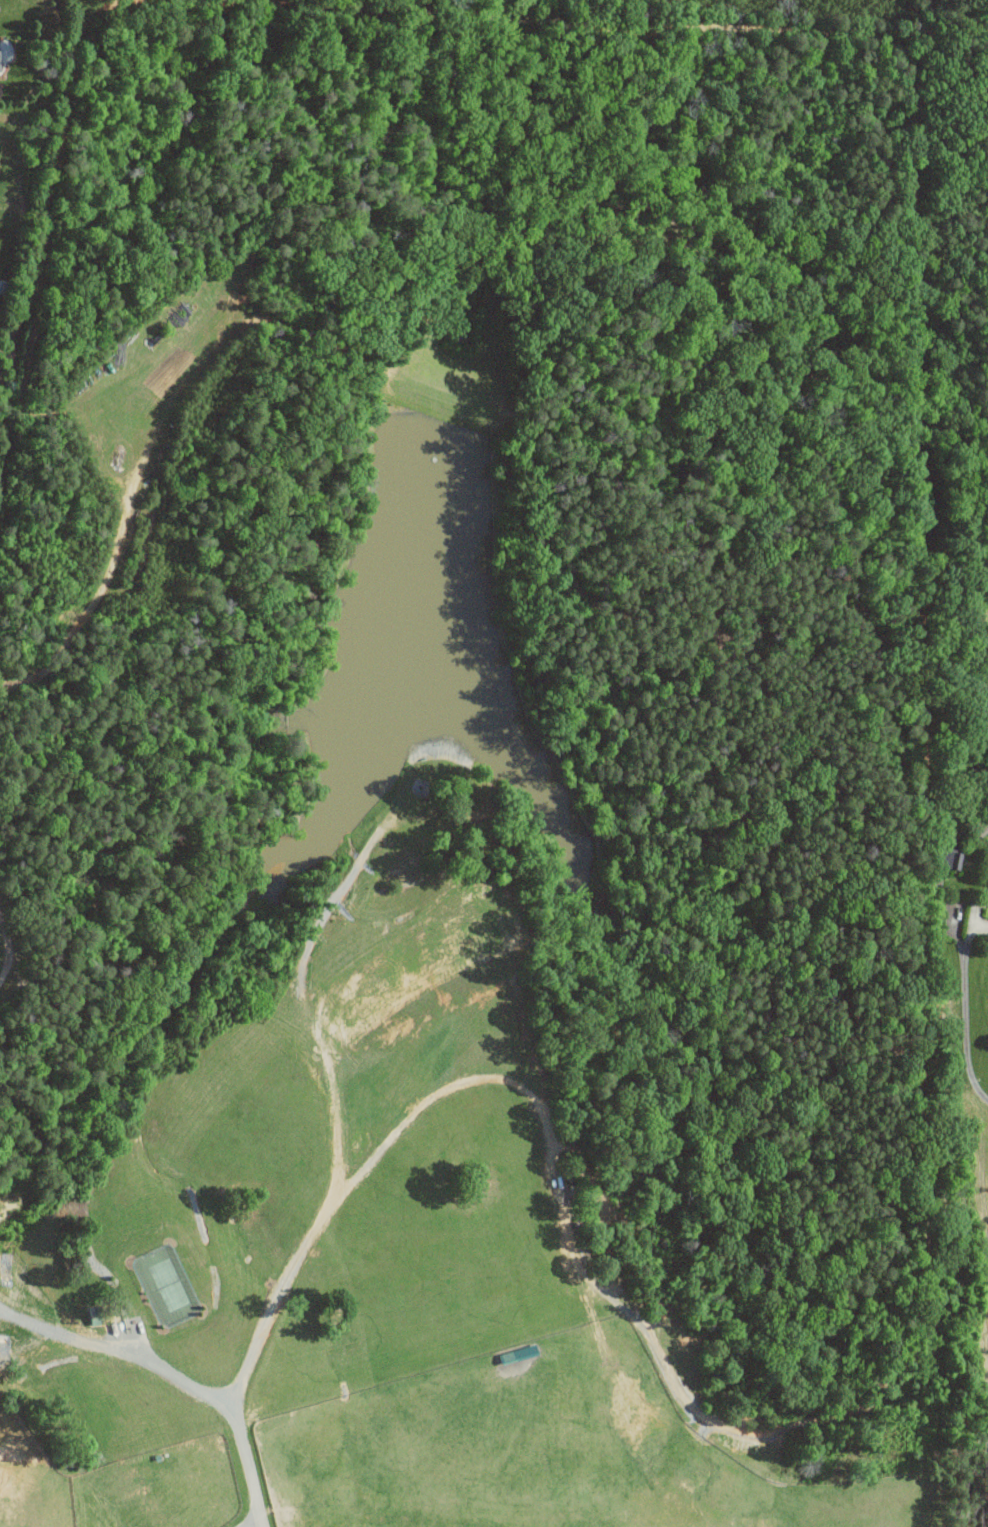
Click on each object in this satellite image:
building: (0, 62)
road: (987, 696)
road: (938, 871)
road: (965, 1008)
road: (248, 1473)
road: (253, 1524)

